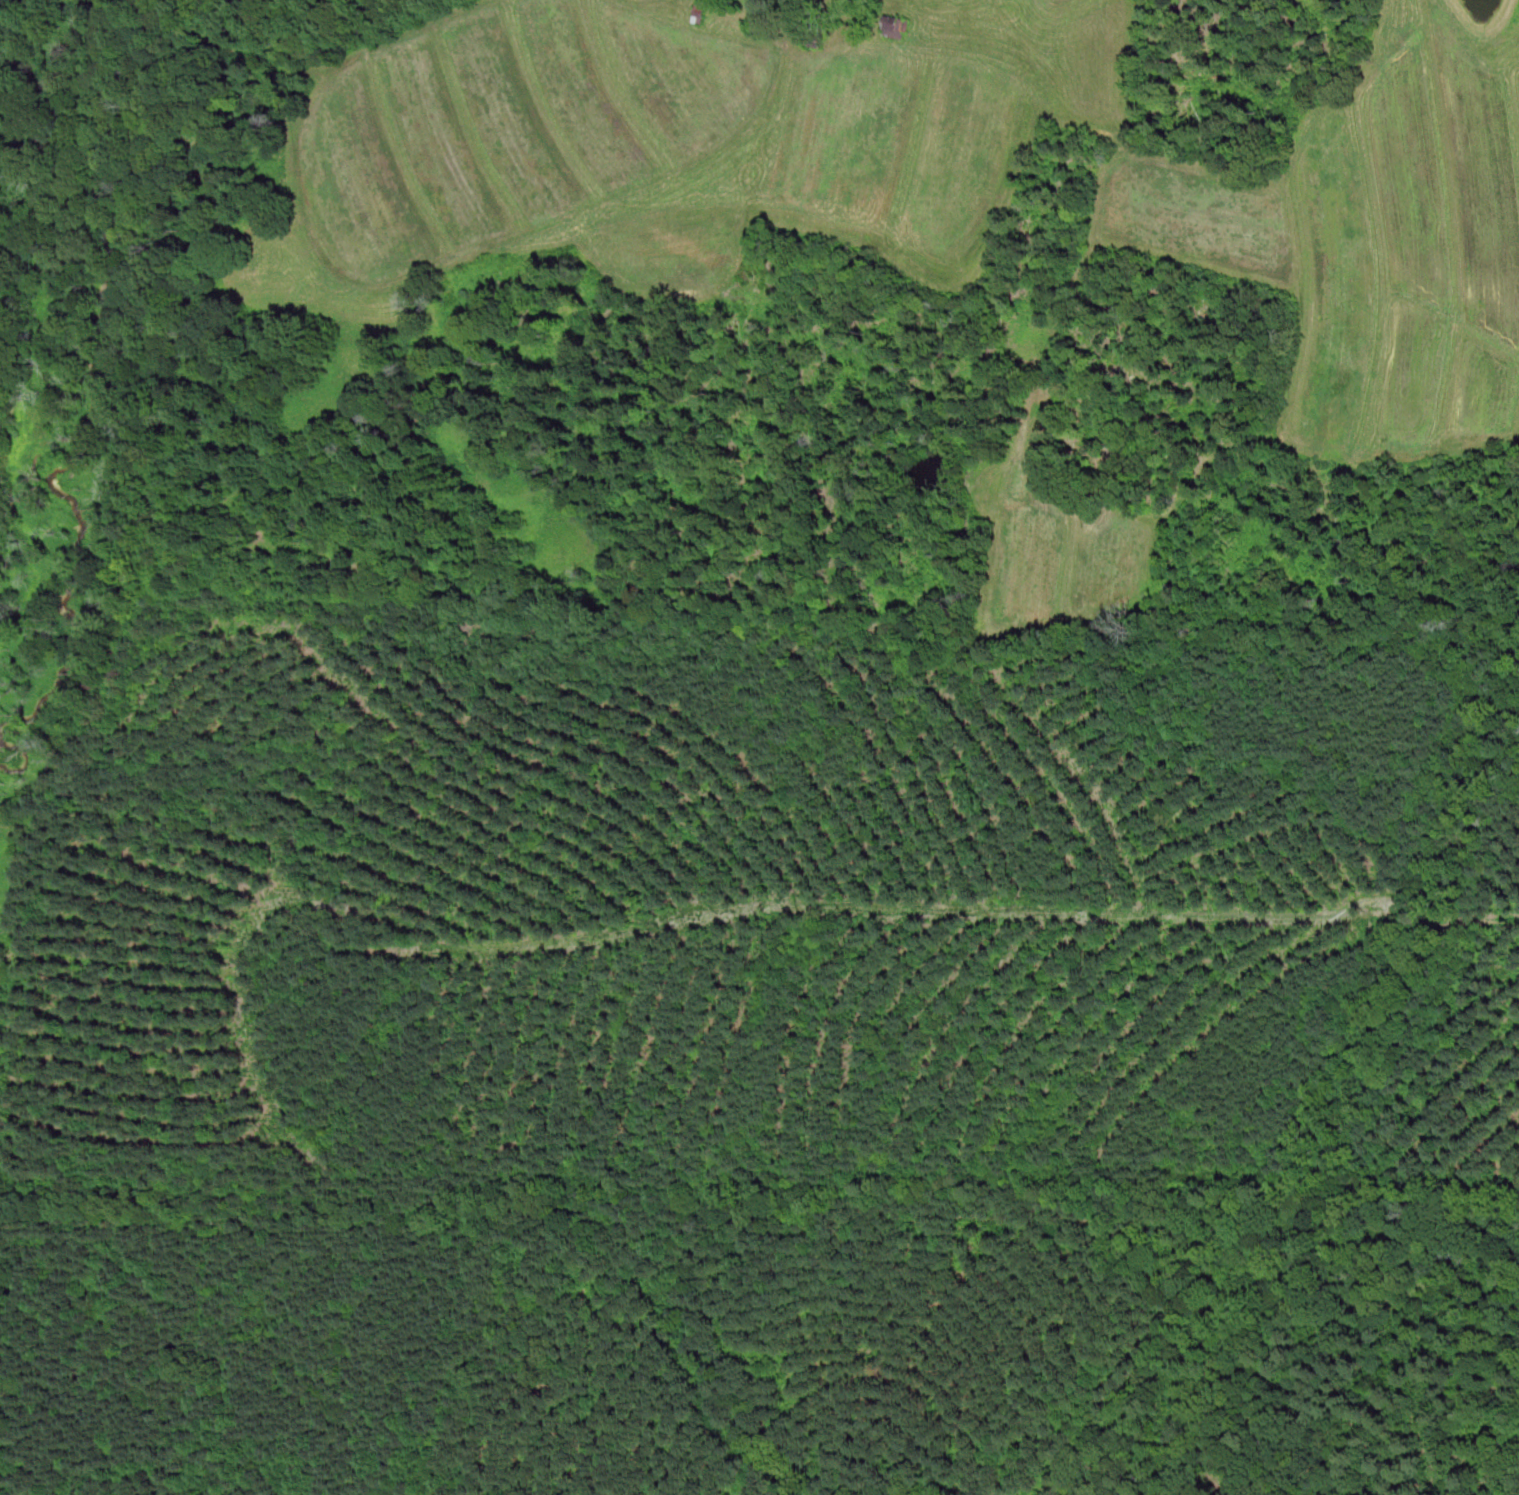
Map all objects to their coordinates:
building: (758, 24)
building: (892, 29)

